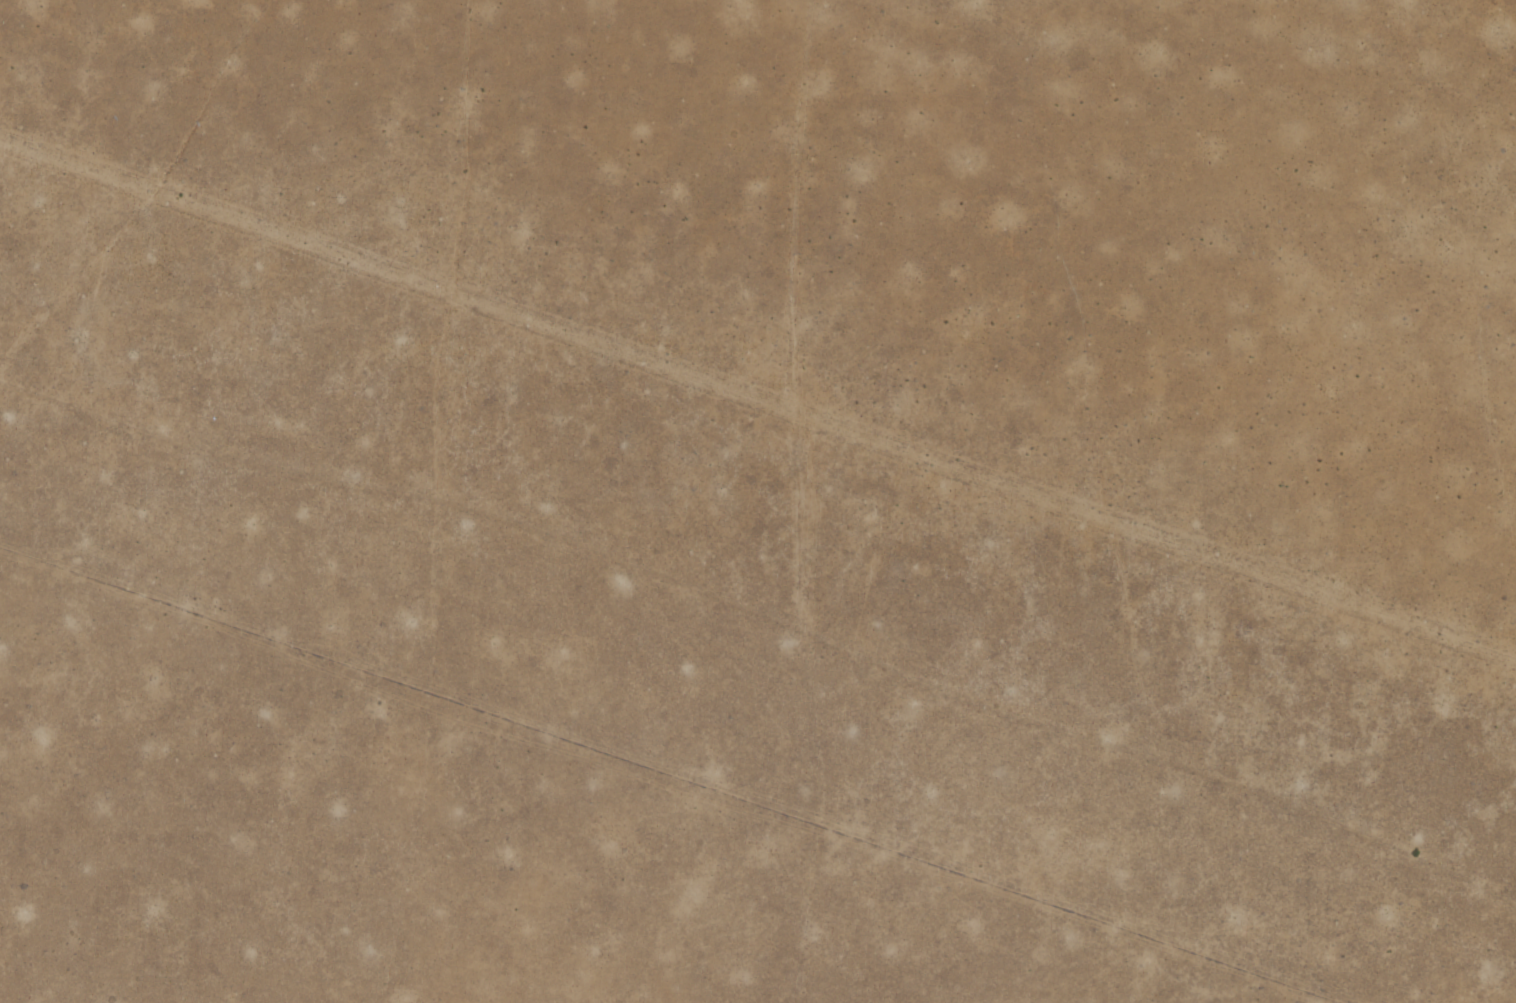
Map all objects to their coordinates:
road: (758, 394)

